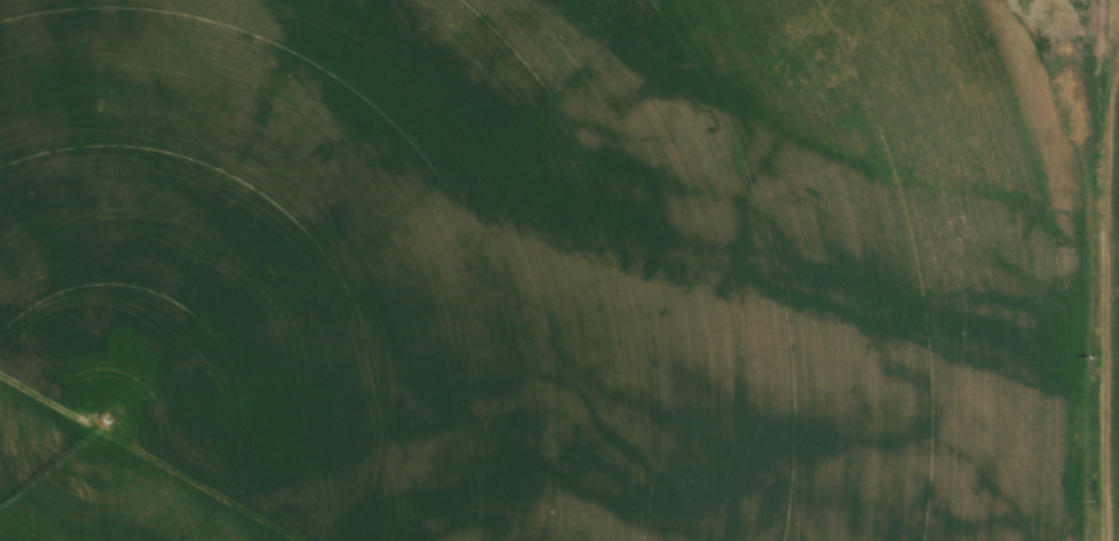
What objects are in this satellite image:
crop: (546, 275)

